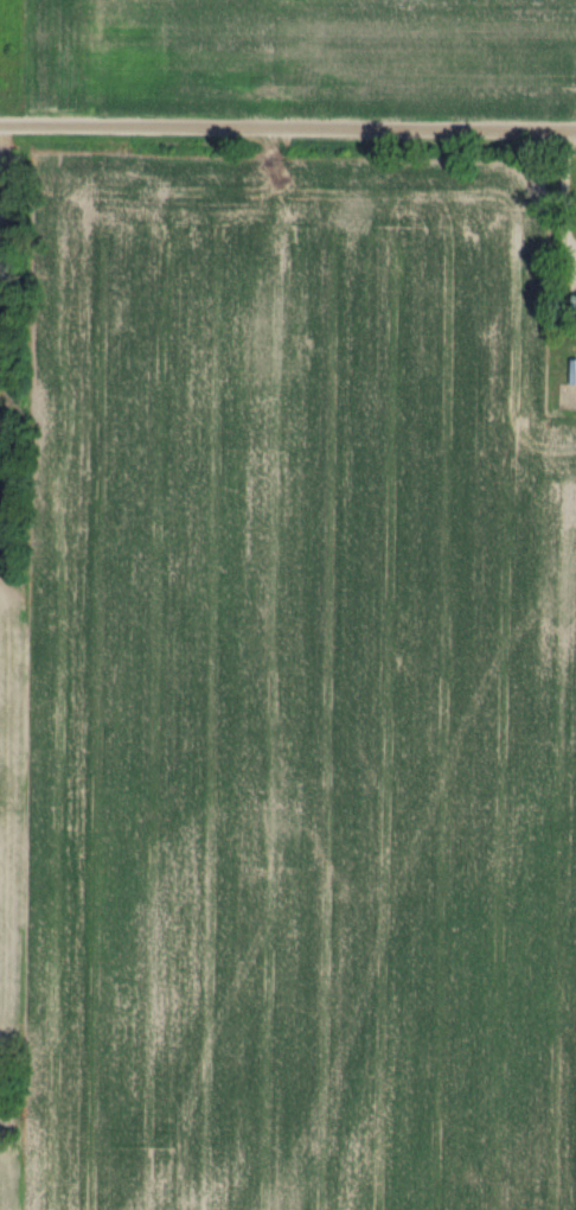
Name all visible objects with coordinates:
road: (288, 127)
road: (562, 211)
building: (574, 371)

